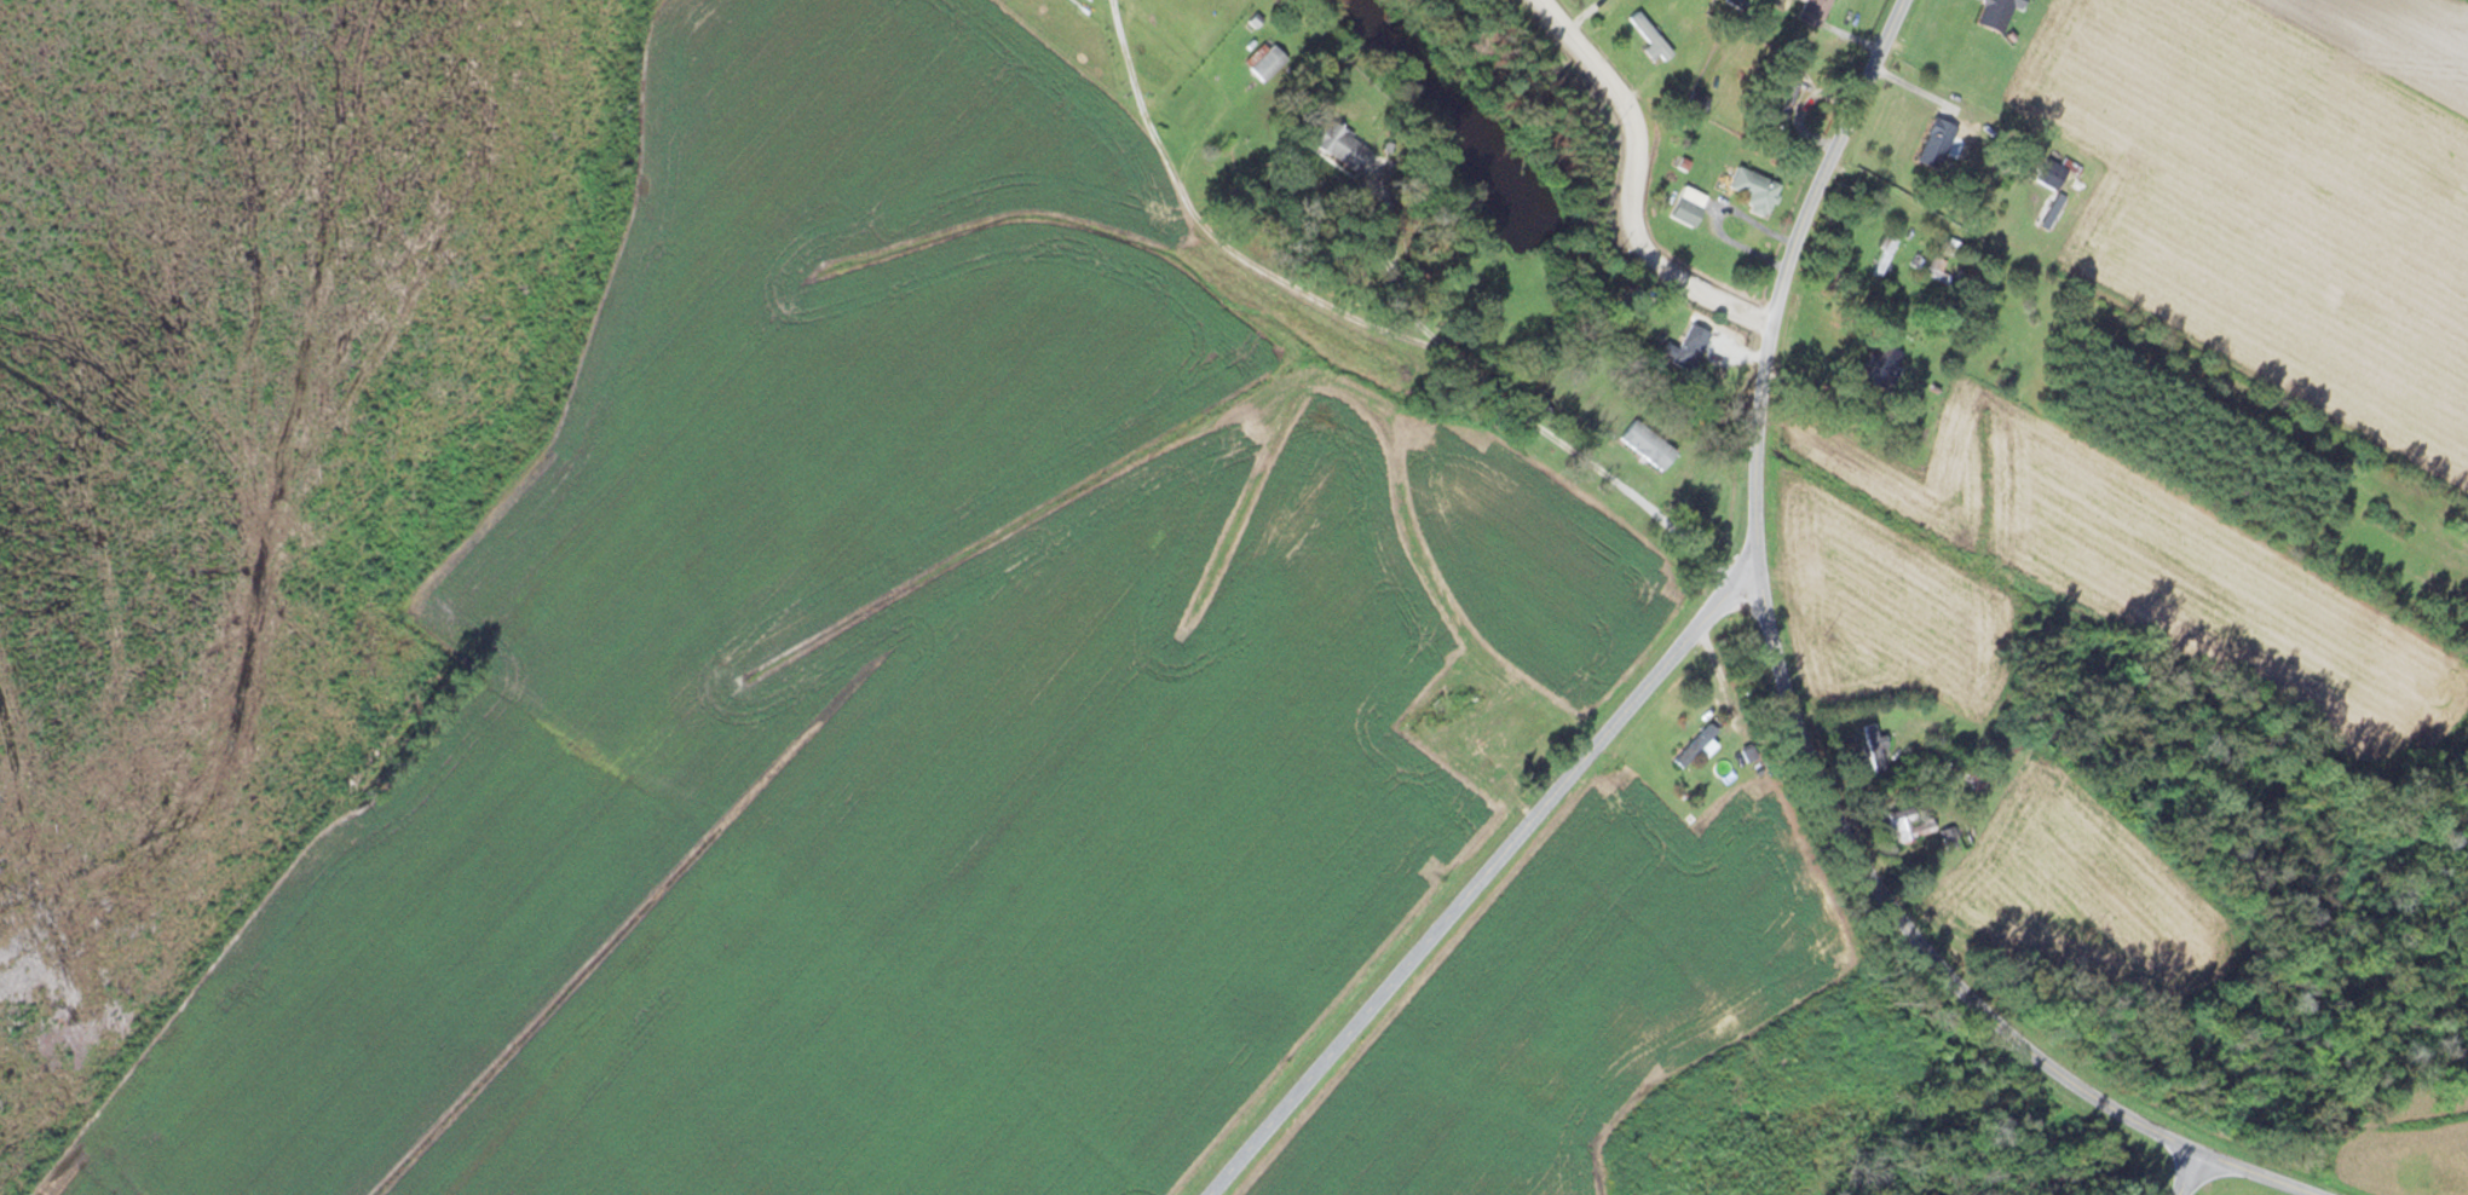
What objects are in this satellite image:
building: (1211, 6)
building: (1811, 12)
building: (1995, 15)
building: (1648, 39)
building: (1267, 64)
building: (1780, 99)
building: (1696, 104)
building: (1336, 144)
building: (1934, 144)
building: (2060, 177)
road: (1636, 189)
building: (1753, 191)
building: (1684, 210)
building: (1882, 258)
road: (1361, 316)
building: (1682, 350)
building: (1879, 368)
building: (1645, 445)
road: (1792, 708)
building: (1434, 720)
building: (1694, 747)
building: (1873, 751)
building: (1907, 826)
building: (1954, 839)
road: (1484, 877)
road: (2186, 1172)

